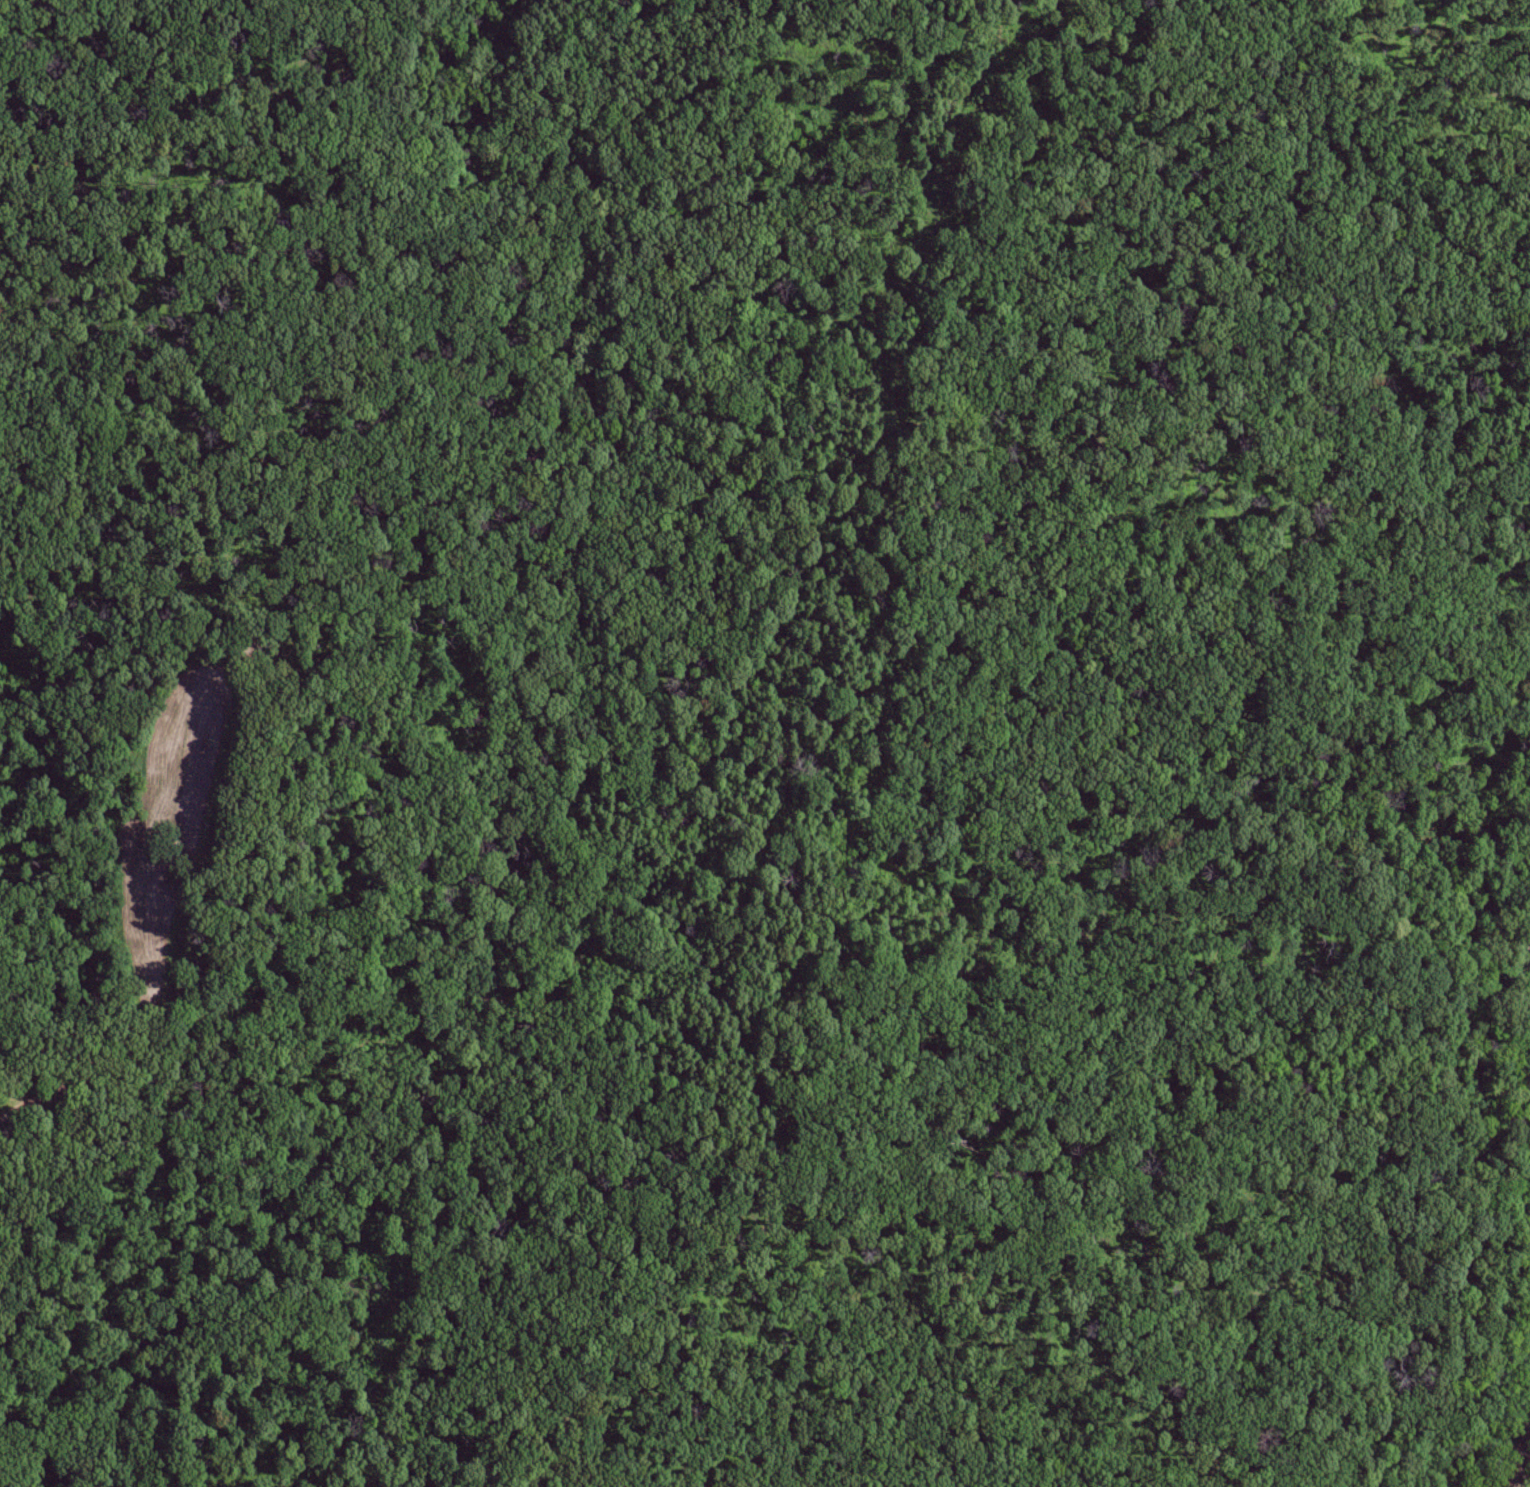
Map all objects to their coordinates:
road: (1409, 791)

